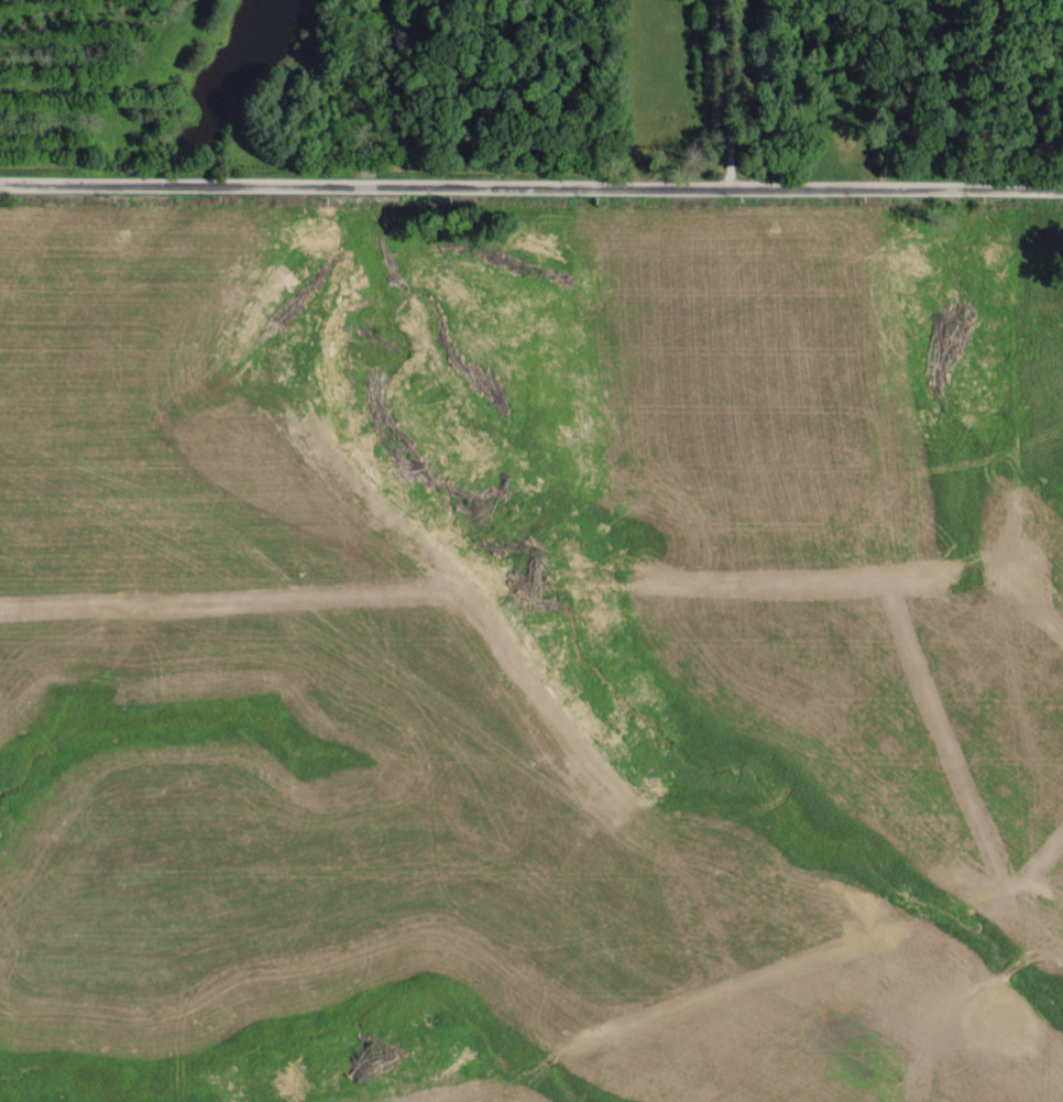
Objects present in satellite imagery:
road: (531, 184)
building: (994, 1017)

